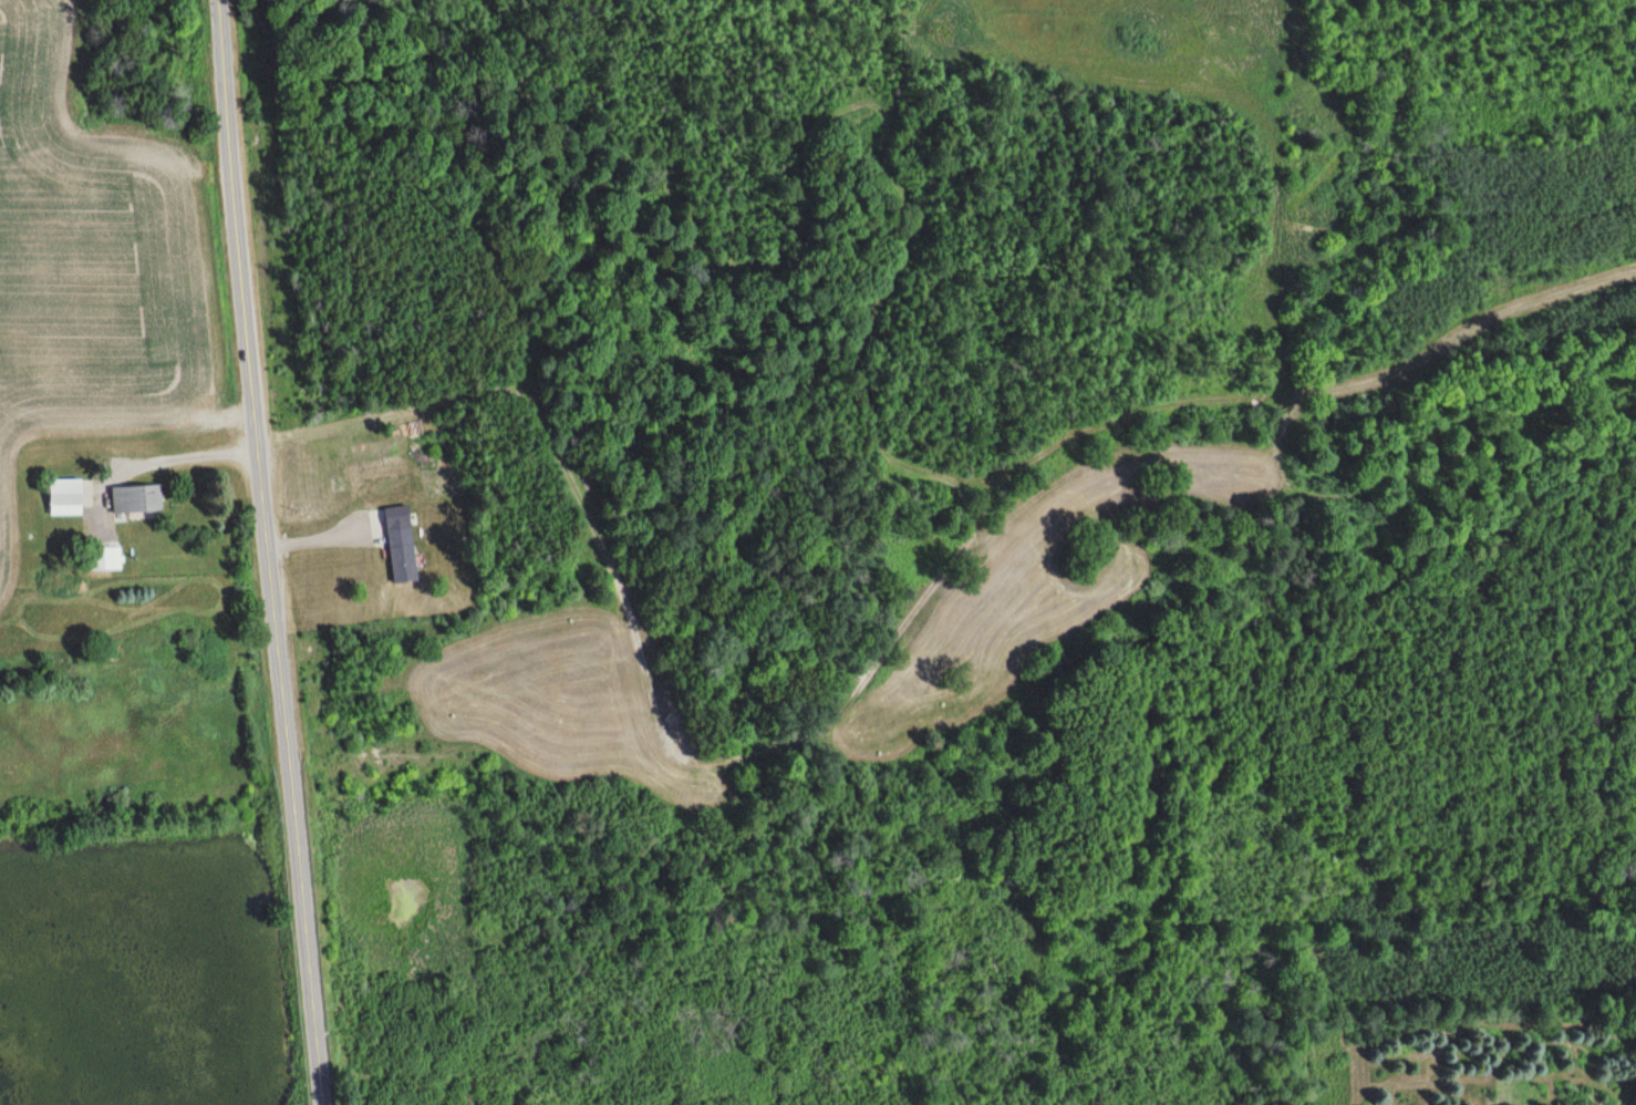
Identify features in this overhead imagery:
building: (66, 497)
building: (136, 499)
building: (402, 545)
road: (268, 552)
building: (104, 558)

